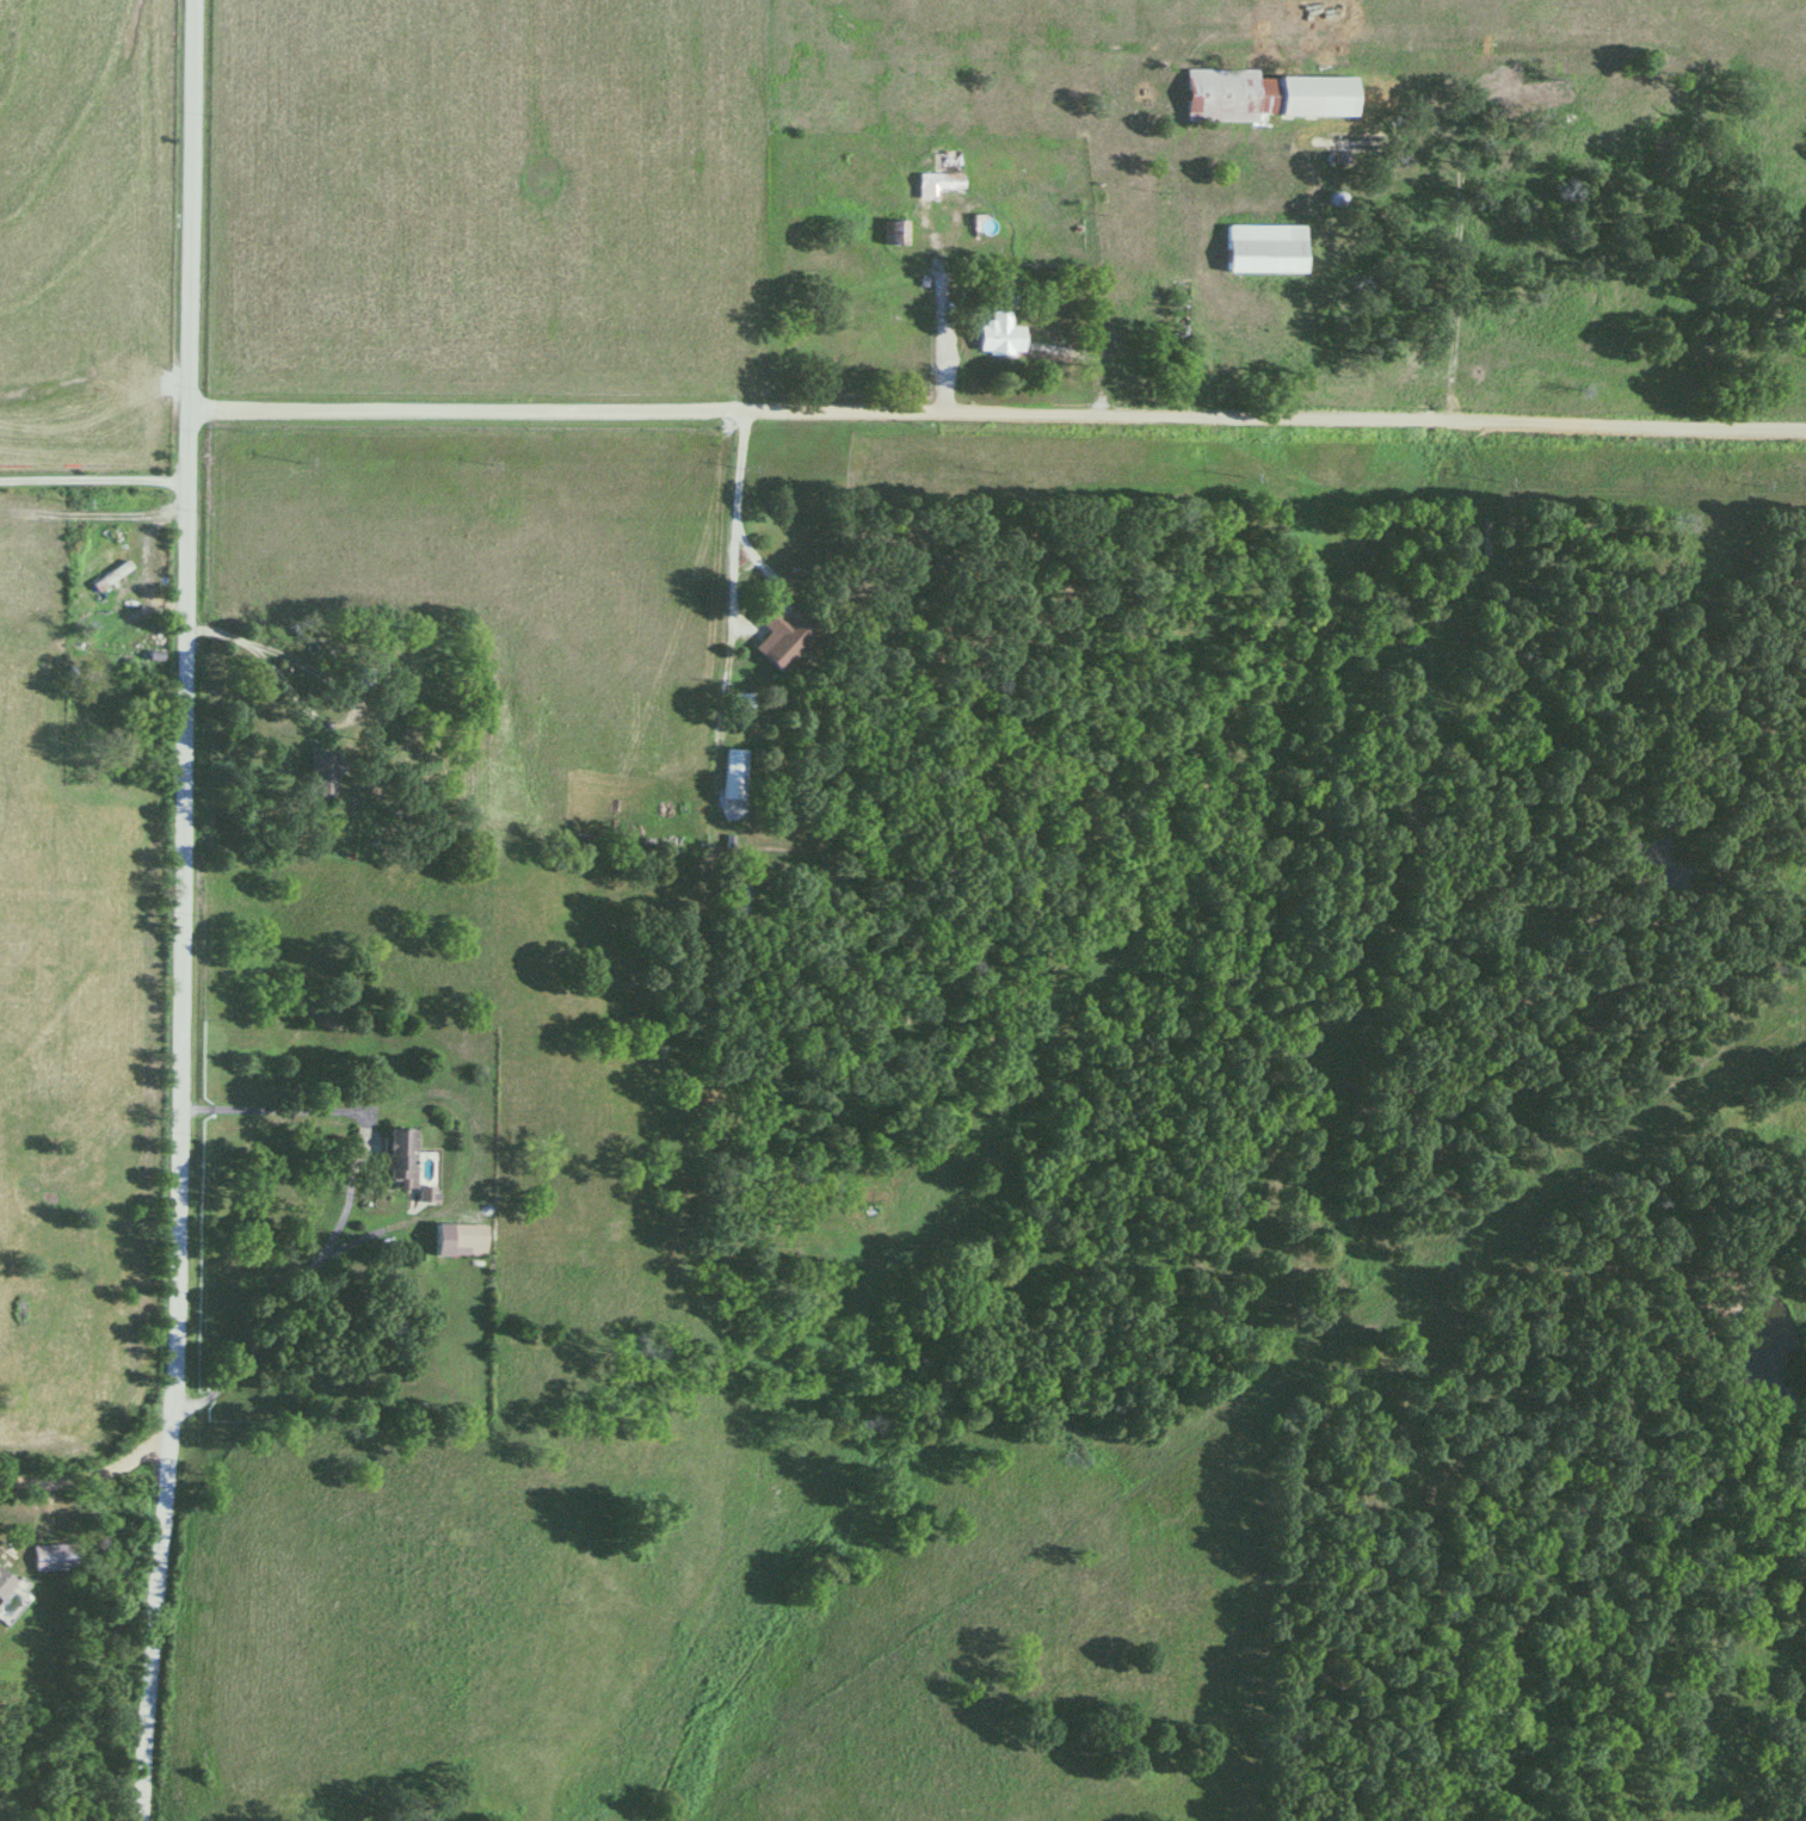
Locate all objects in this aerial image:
building: (1265, 97)
building: (938, 185)
road: (998, 203)
building: (895, 234)
building: (1266, 251)
road: (1099, 264)
building: (1001, 337)
road: (996, 418)
road: (732, 477)
road: (92, 484)
building: (88, 587)
road: (758, 622)
building: (776, 637)
road: (181, 717)
road: (323, 727)
building: (734, 765)
building: (322, 773)
building: (735, 906)
road: (266, 1111)
building: (402, 1159)
building: (462, 1241)
road: (88, 1481)
building: (55, 1558)
building: (6, 1584)
road: (148, 1628)

